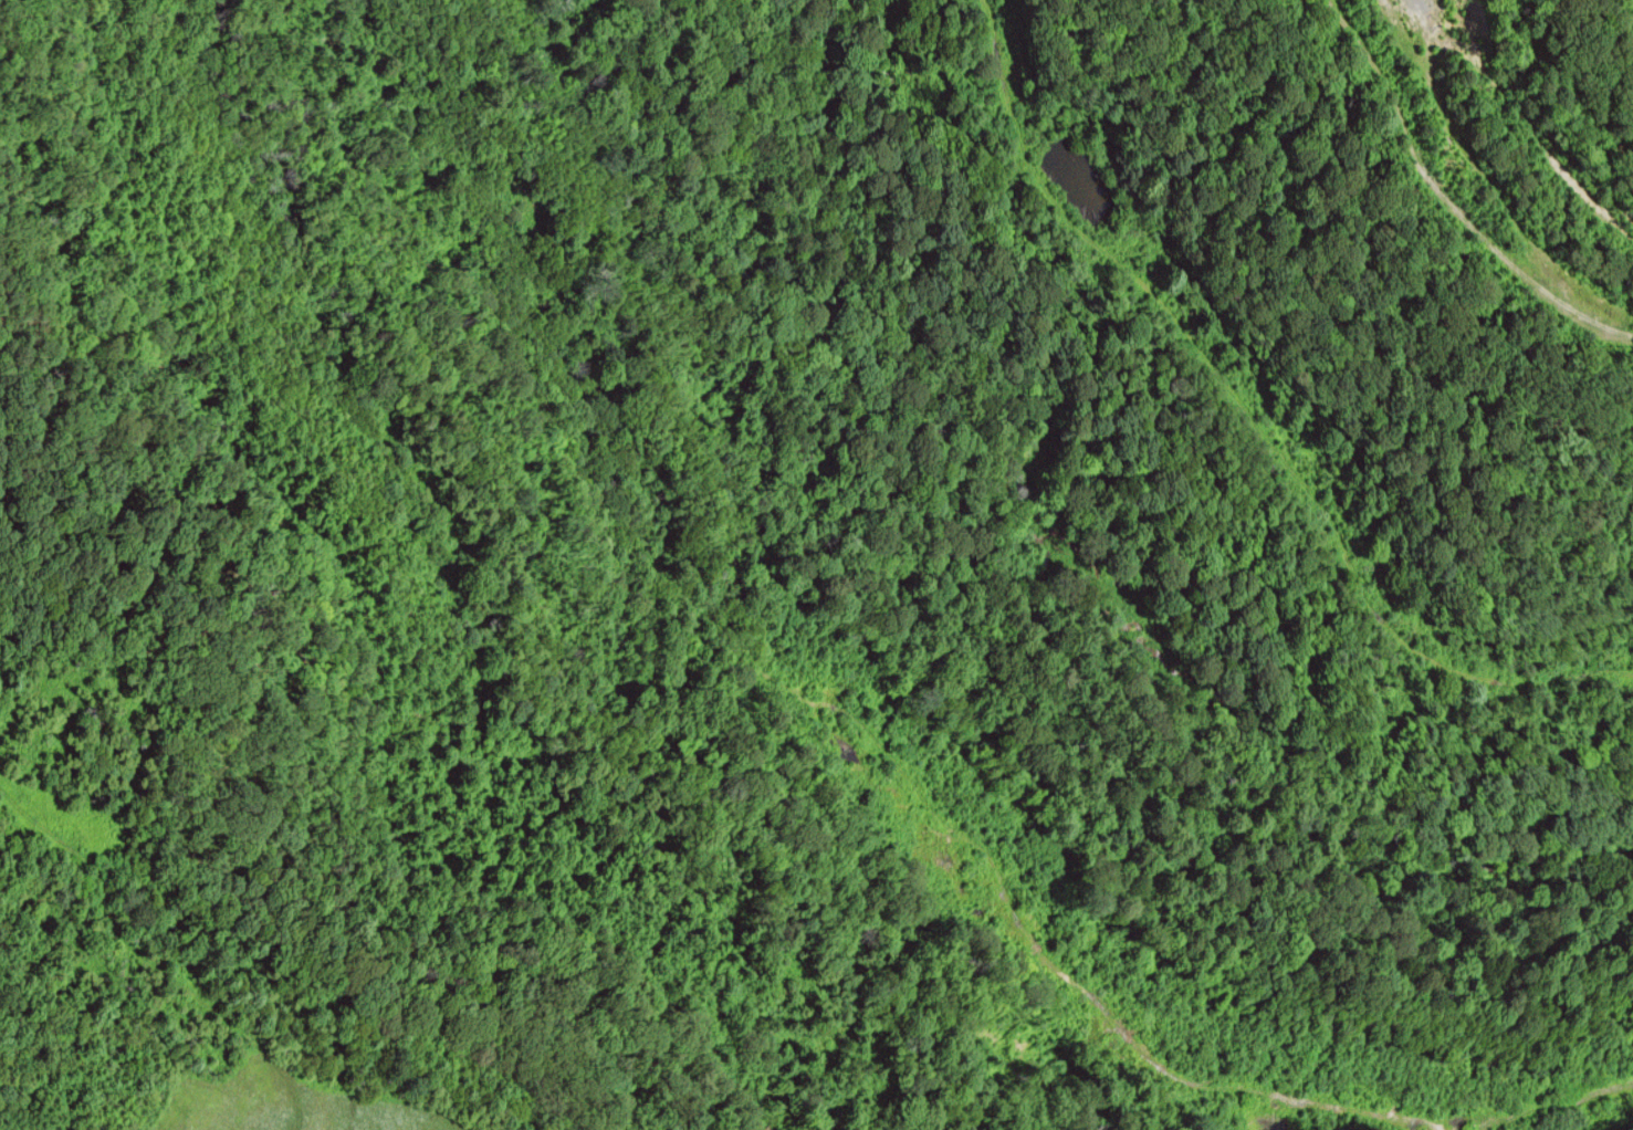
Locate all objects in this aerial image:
road: (1445, 198)
road: (880, 751)

